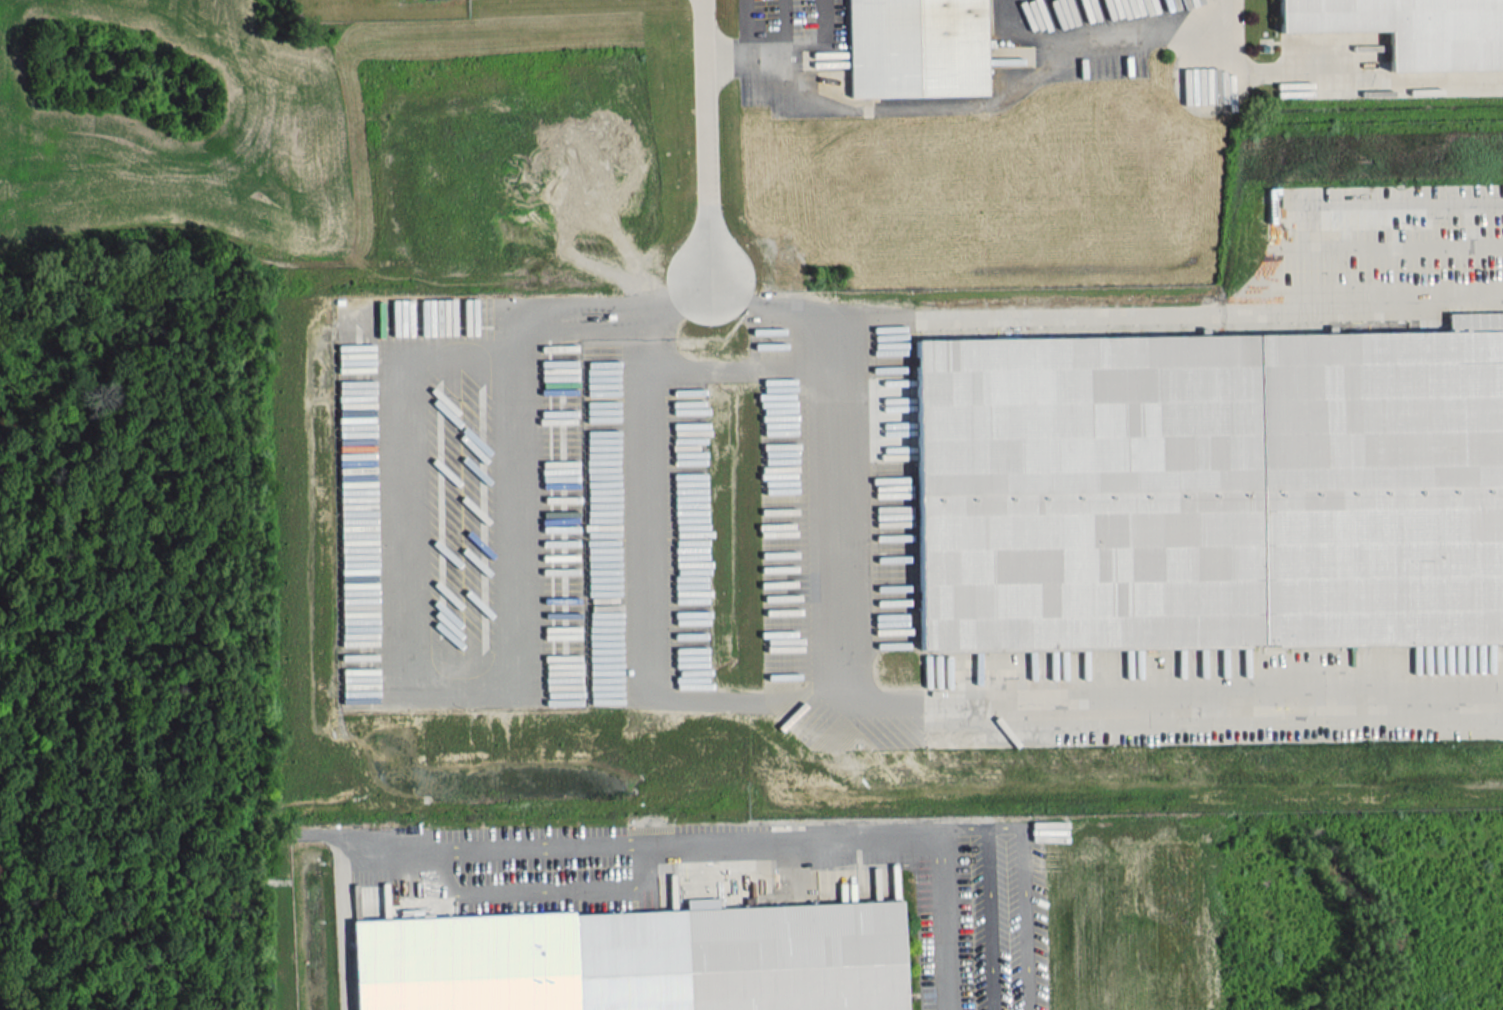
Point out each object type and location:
road: (1227, 21)
road: (786, 25)
road: (746, 26)
building: (1412, 29)
parking lot: (783, 46)
building: (916, 47)
road: (784, 50)
road: (1354, 82)
road: (706, 127)
road: (688, 293)
road: (768, 311)
road: (1153, 314)
road: (651, 331)
road: (644, 355)
building: (1209, 490)
road: (825, 685)
road: (1162, 700)
road: (788, 836)
parking lot: (727, 875)
building: (637, 959)

